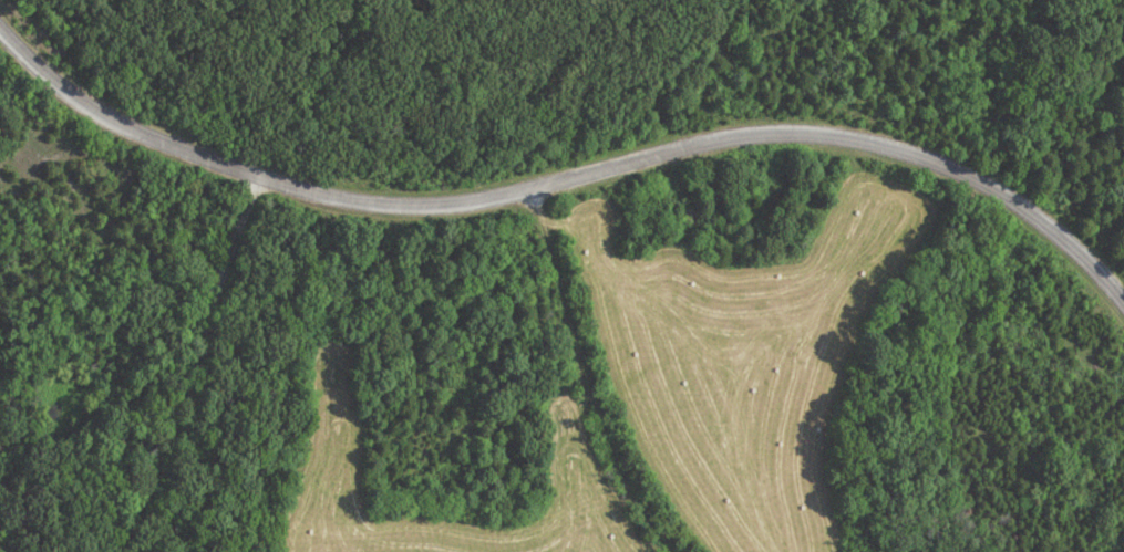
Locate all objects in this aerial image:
road: (565, 180)
road: (192, 367)
road: (587, 376)

